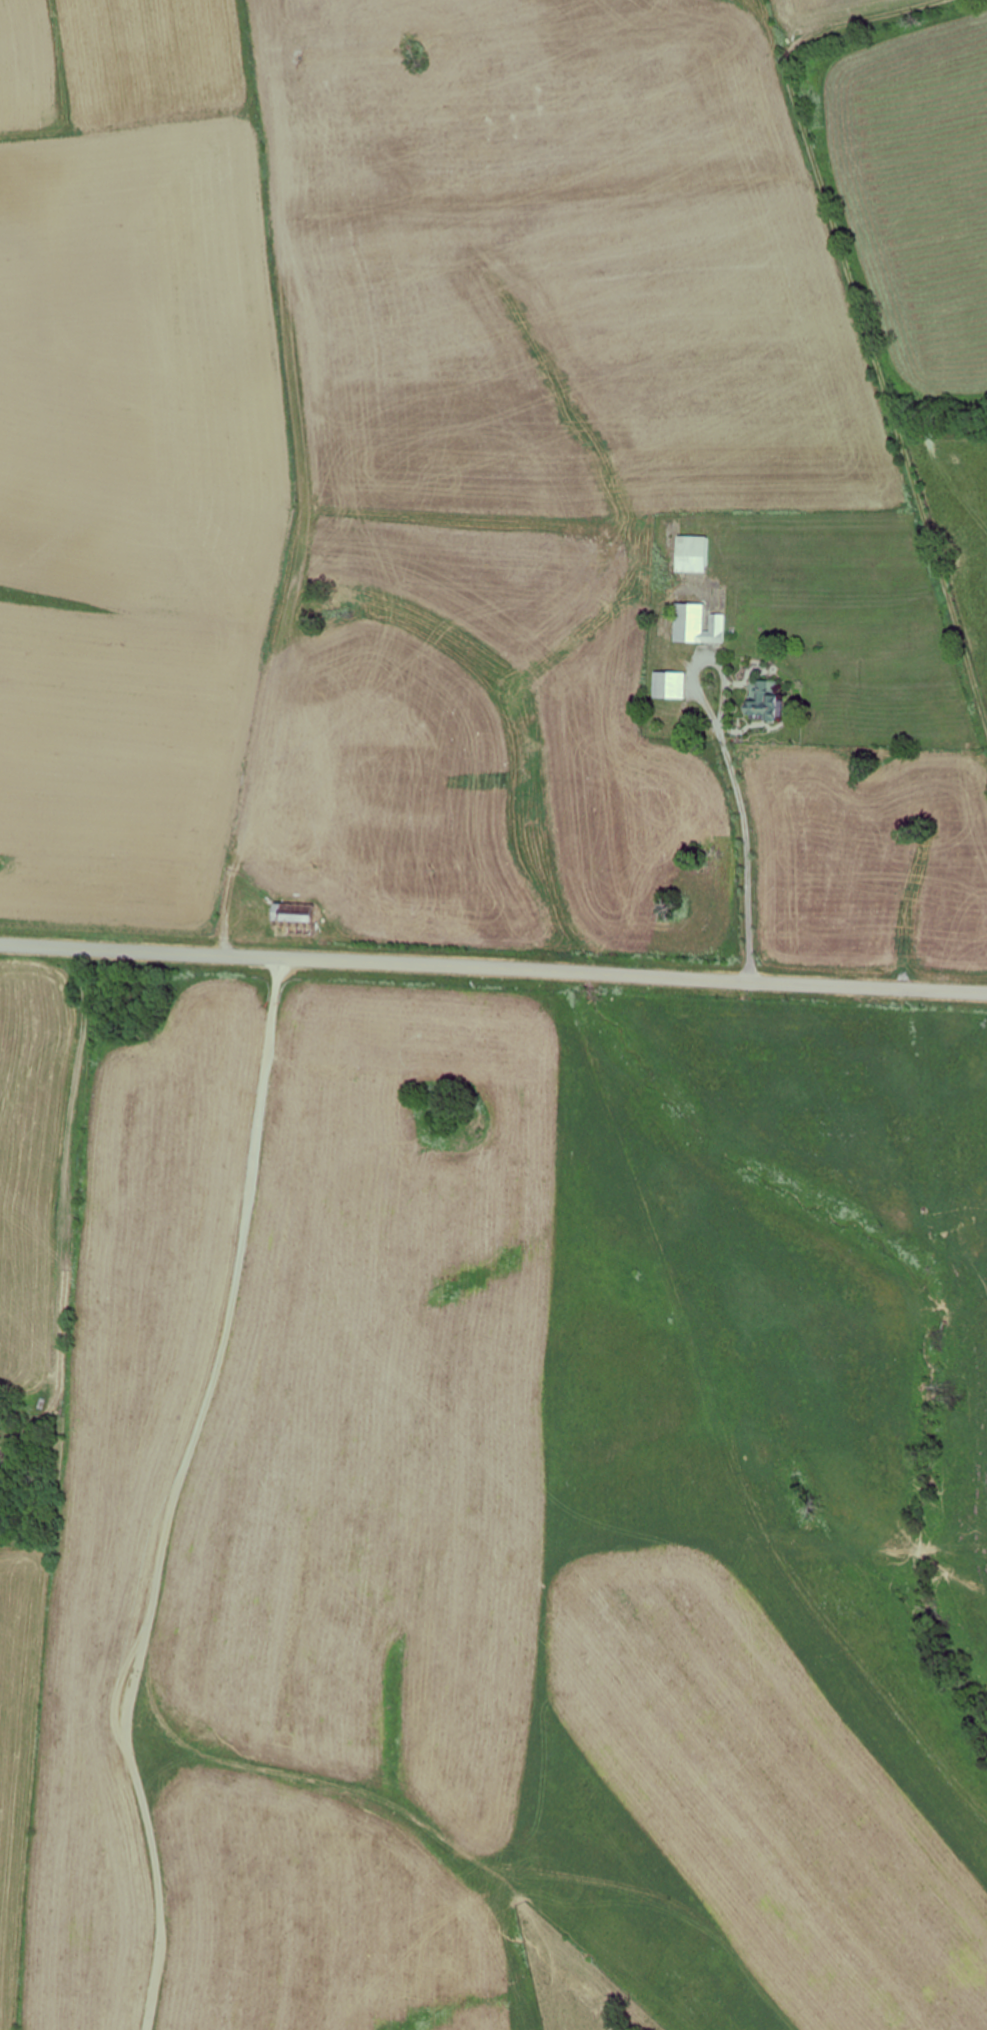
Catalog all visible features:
building: (689, 555)
building: (698, 625)
building: (670, 685)
building: (764, 700)
road: (777, 806)
building: (288, 920)
road: (493, 968)
road: (169, 1491)

